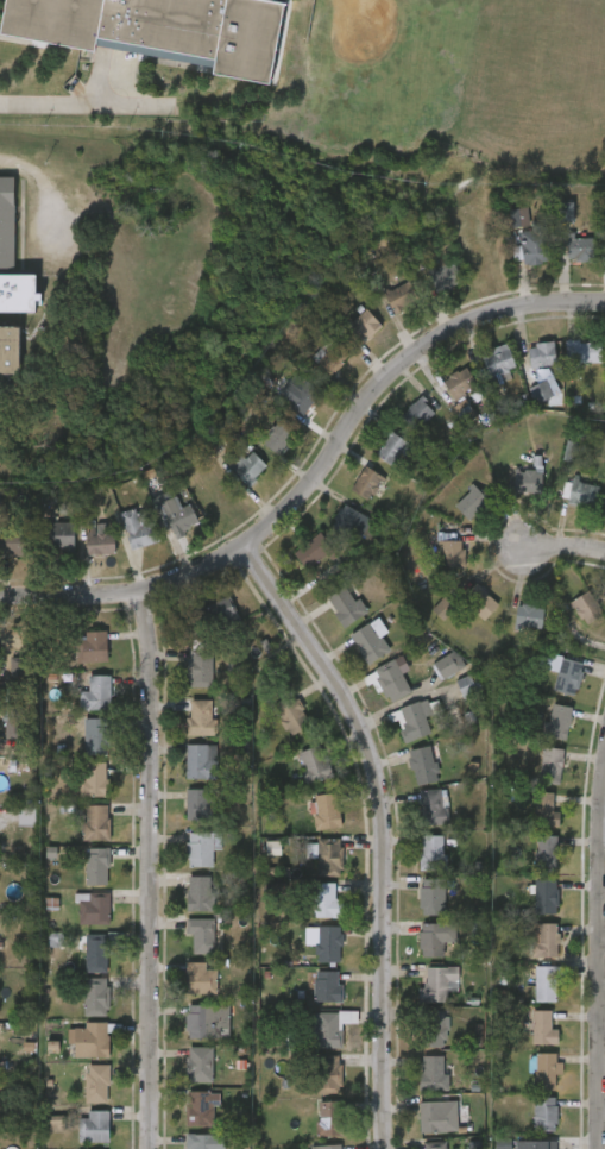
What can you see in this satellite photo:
building: (157, 30)
park: (453, 88)
road: (82, 103)
building: (566, 212)
building: (519, 218)
building: (531, 244)
building: (580, 246)
building: (12, 257)
building: (445, 275)
building: (401, 295)
building: (364, 325)
building: (10, 350)
building: (582, 350)
building: (542, 353)
building: (330, 354)
building: (498, 360)
building: (458, 381)
building: (544, 387)
building: (298, 393)
building: (417, 412)
building: (464, 412)
building: (278, 432)
building: (392, 447)
building: (248, 466)
road: (319, 475)
building: (528, 479)
building: (367, 483)
building: (582, 492)
building: (471, 501)
building: (178, 516)
building: (353, 522)
building: (139, 527)
building: (57, 535)
building: (99, 539)
building: (14, 540)
road: (563, 548)
building: (315, 550)
building: (450, 552)
building: (479, 601)
building: (345, 604)
building: (443, 607)
building: (585, 610)
building: (220, 614)
building: (529, 616)
building: (370, 642)
building: (96, 646)
building: (198, 666)
building: (17, 667)
building: (446, 667)
building: (563, 671)
building: (391, 680)
building: (468, 689)
building: (95, 692)
building: (290, 714)
building: (200, 716)
building: (412, 718)
building: (559, 720)
building: (13, 722)
building: (96, 735)
building: (201, 760)
building: (314, 762)
building: (422, 764)
building: (550, 765)
building: (95, 778)
building: (198, 803)
building: (431, 805)
building: (544, 809)
building: (324, 810)
building: (27, 817)
building: (95, 821)
road: (384, 828)
building: (202, 847)
building: (273, 848)
building: (433, 850)
building: (547, 852)
building: (328, 856)
building: (96, 865)
road: (150, 868)
building: (200, 892)
building: (431, 896)
building: (546, 896)
building: (326, 900)
building: (92, 908)
building: (200, 928)
building: (431, 937)
building: (546, 938)
building: (328, 943)
building: (95, 954)
road: (601, 971)
building: (201, 978)
building: (439, 982)
building: (546, 984)
building: (327, 985)
building: (96, 996)
building: (207, 1021)
building: (543, 1026)
building: (329, 1028)
building: (434, 1029)
building: (96, 1037)
building: (53, 1047)
building: (200, 1065)
building: (546, 1070)
building: (431, 1073)
building: (327, 1074)
building: (96, 1082)
building: (201, 1107)
building: (546, 1113)
building: (431, 1116)
building: (332, 1118)
building: (57, 1124)
building: (94, 1125)
building: (200, 1141)
building: (435, 1144)
building: (504, 1144)
building: (535, 1144)
building: (330, 1147)

